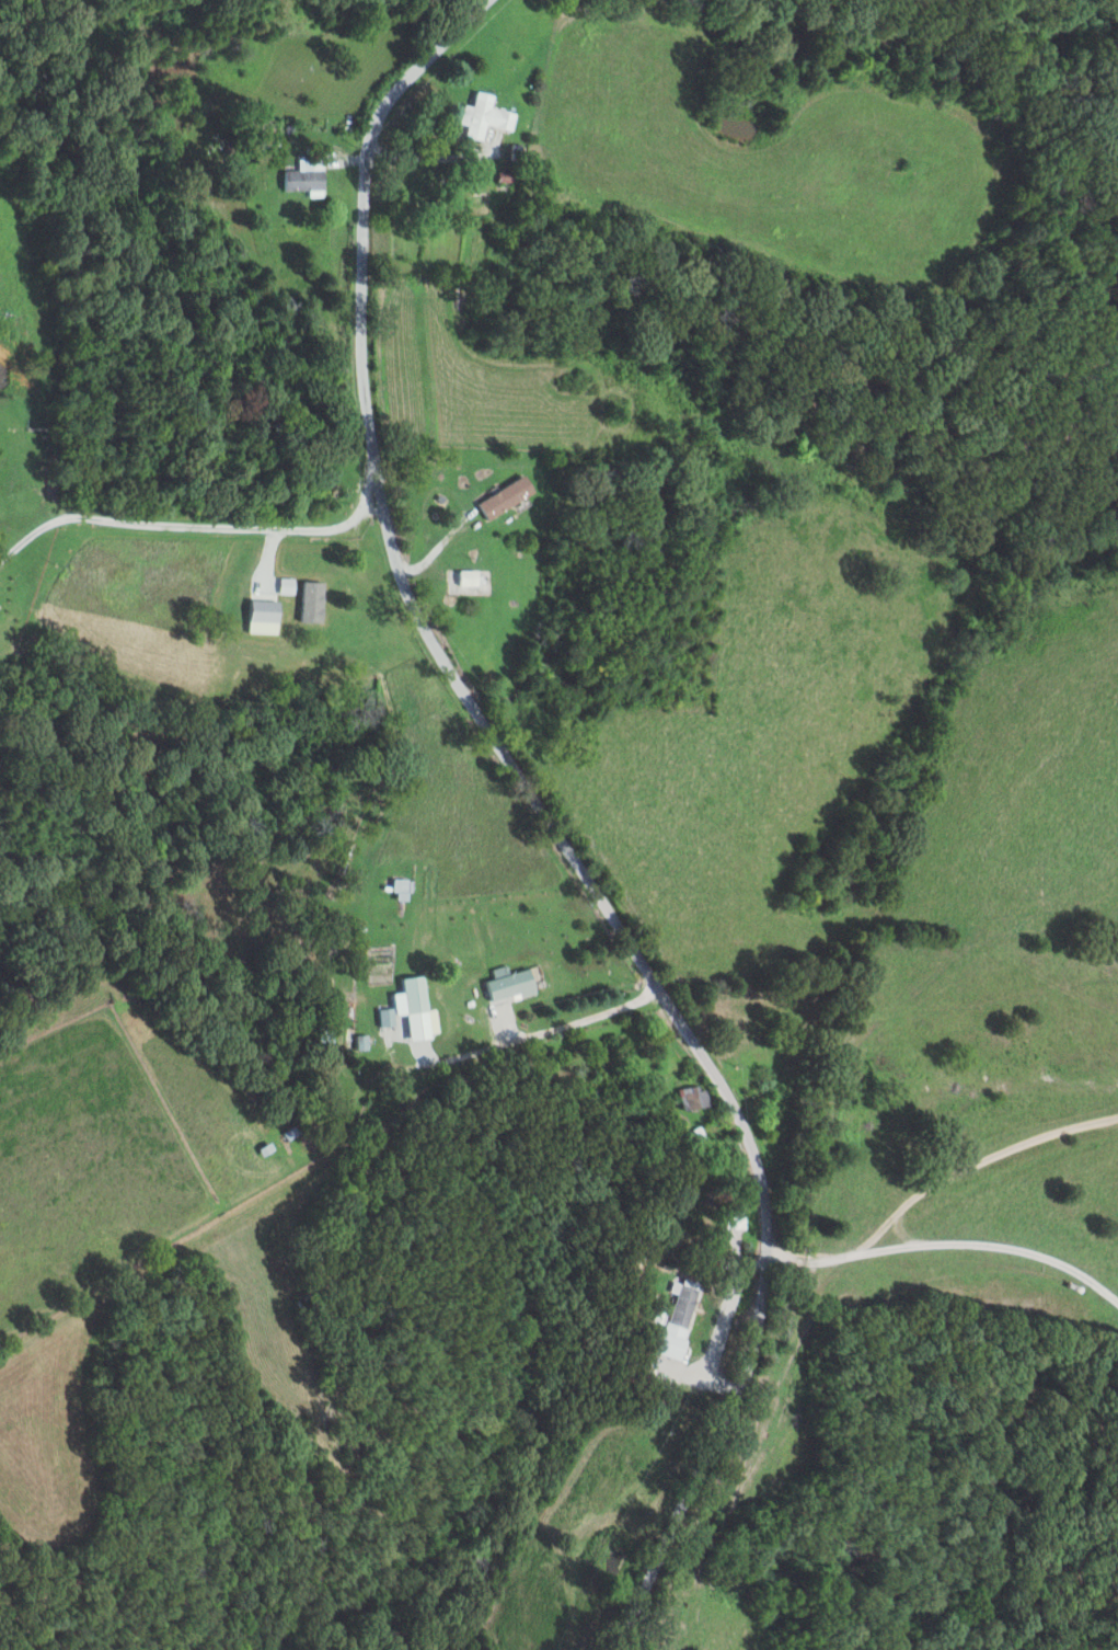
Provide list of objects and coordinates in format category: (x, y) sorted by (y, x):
building: (485, 116)
road: (426, 151)
building: (307, 175)
road: (356, 285)
building: (508, 496)
road: (380, 520)
road: (35, 523)
road: (193, 526)
road: (437, 539)
building: (265, 610)
building: (512, 984)
building: (416, 1009)
building: (387, 1017)
building: (361, 1042)
road: (496, 1043)
road: (718, 1082)
building: (693, 1098)
road: (982, 1160)
road: (945, 1238)
building: (670, 1321)
road: (701, 1384)

